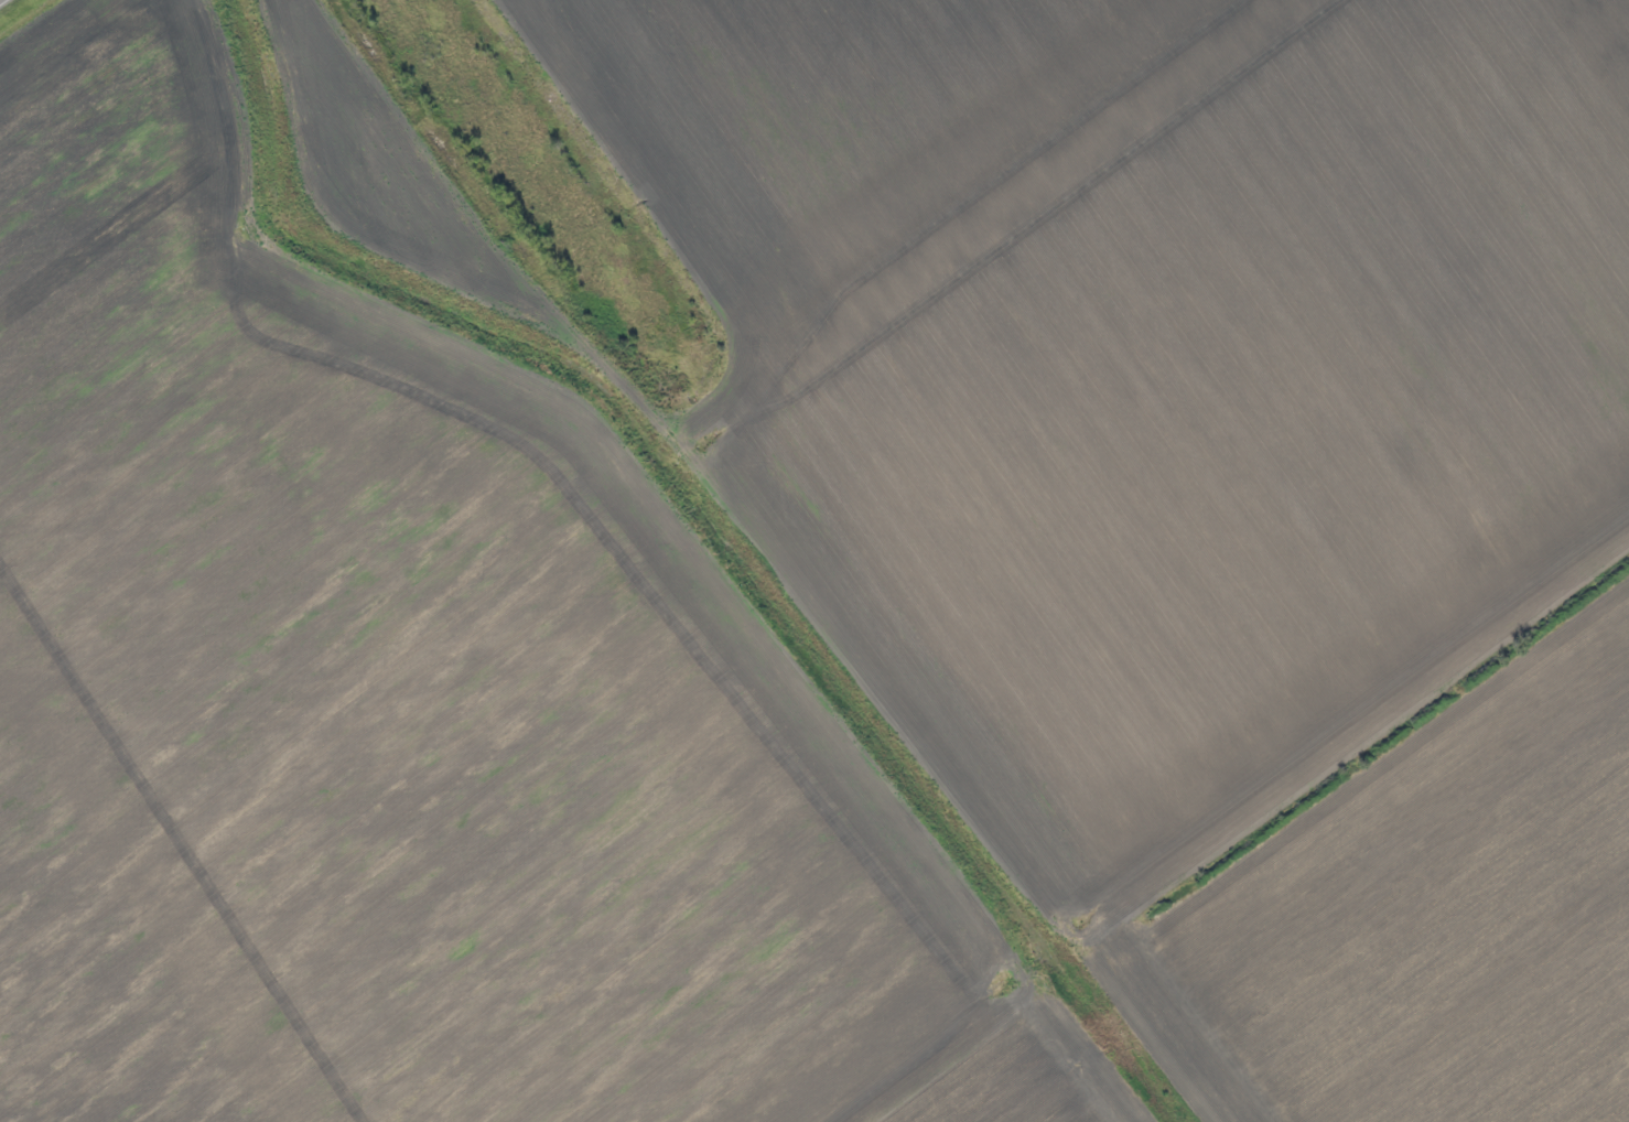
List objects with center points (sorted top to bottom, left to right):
road: (781, 593)

